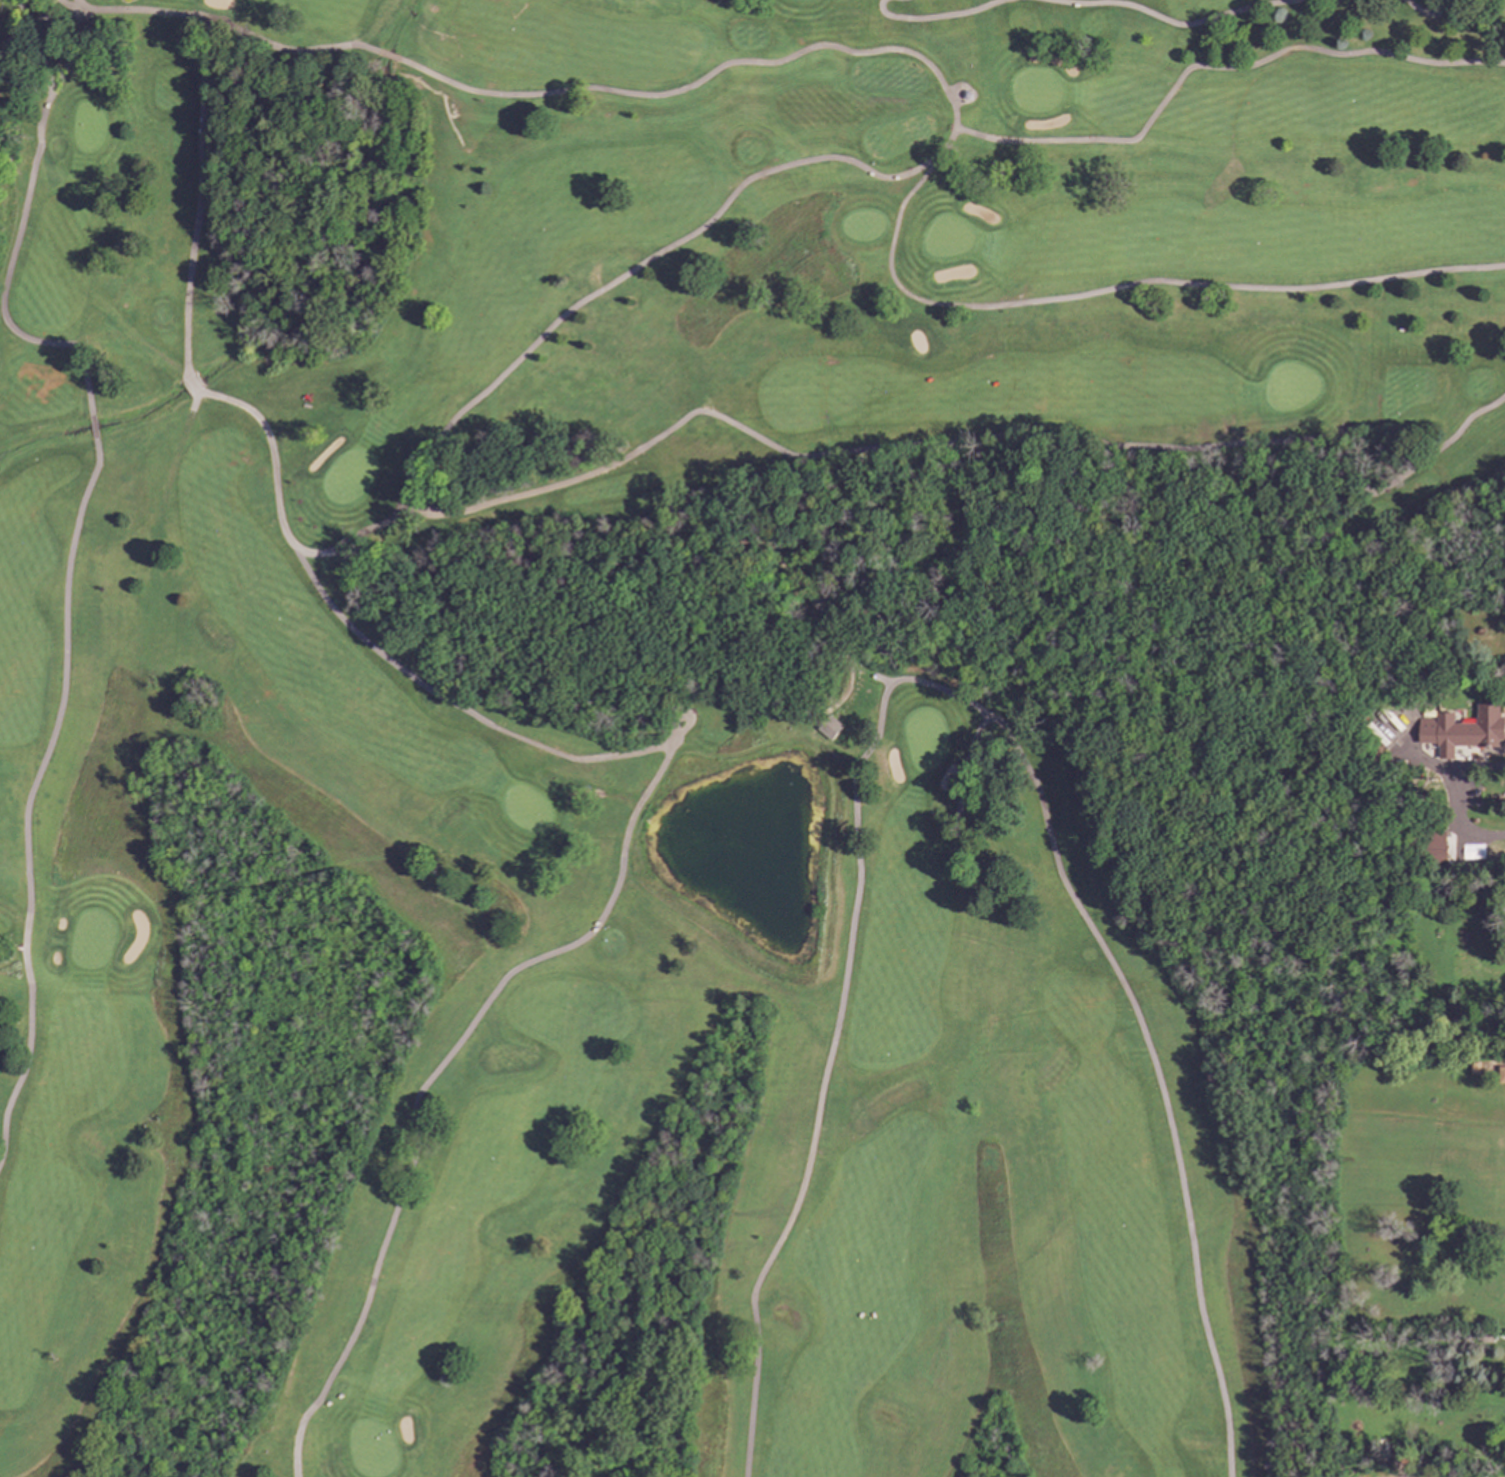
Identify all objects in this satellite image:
road: (1430, 8)
road: (58, 16)
road: (932, 16)
road: (1173, 22)
road: (229, 26)
road: (390, 57)
road: (42, 58)
road: (1213, 66)
road: (764, 171)
road: (197, 201)
road: (17, 233)
road: (1127, 286)
road: (190, 386)
road: (91, 427)
road: (967, 452)
road: (936, 688)
park: (700, 717)
building: (828, 727)
building: (1461, 730)
road: (30, 789)
road: (1459, 801)
road: (594, 923)
building: (1500, 1075)

